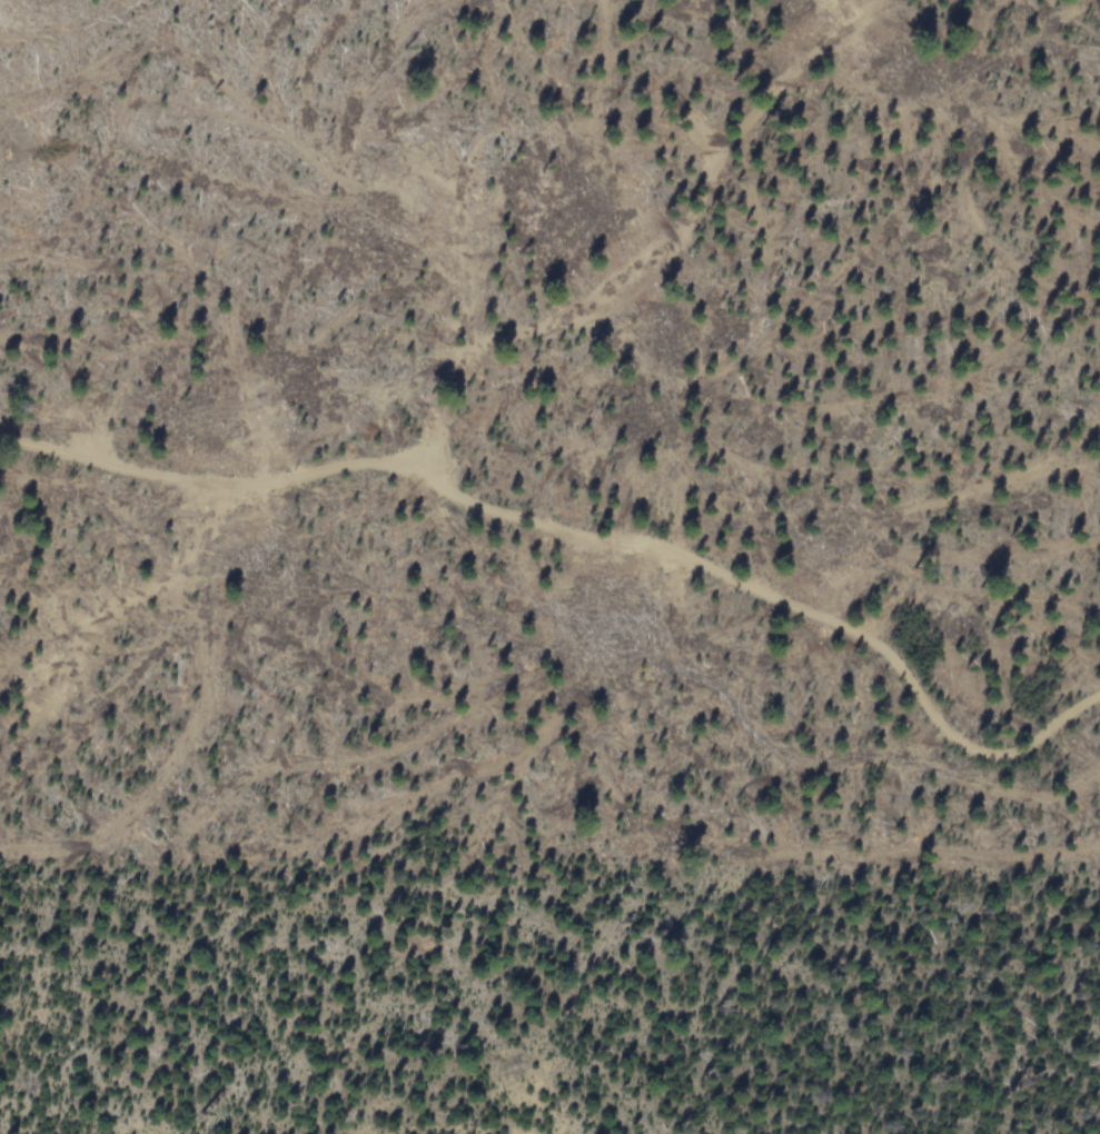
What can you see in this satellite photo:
road: (592, 531)

